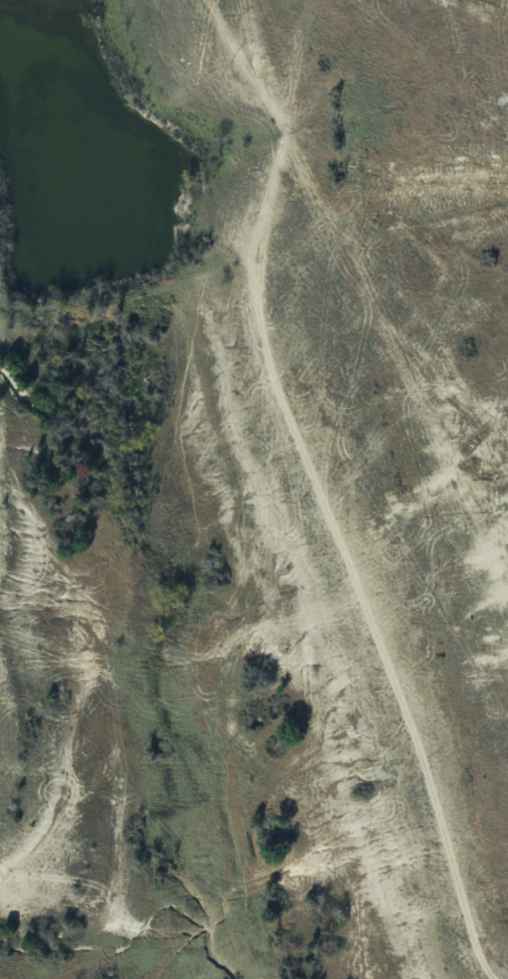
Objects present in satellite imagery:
dam: (93, 298)

